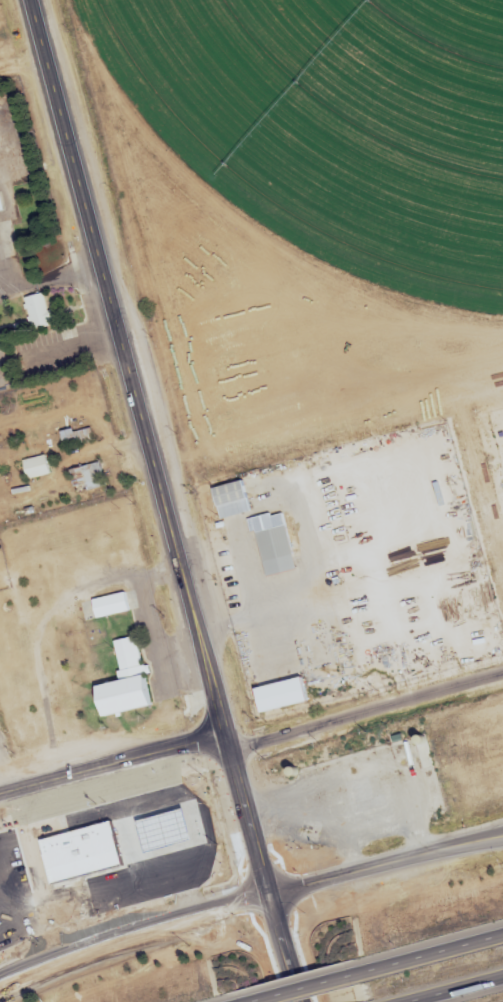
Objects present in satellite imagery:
building: (37, 311)
building: (78, 437)
building: (36, 467)
building: (89, 478)
building: (230, 500)
road: (168, 501)
building: (273, 544)
building: (105, 606)
building: (251, 667)
building: (125, 682)
road: (368, 712)
road: (114, 763)
building: (362, 796)
road: (495, 835)
road: (495, 836)
building: (94, 851)
building: (8, 853)
road: (380, 865)
road: (133, 935)
road: (438, 951)
road: (310, 985)
road: (455, 989)

